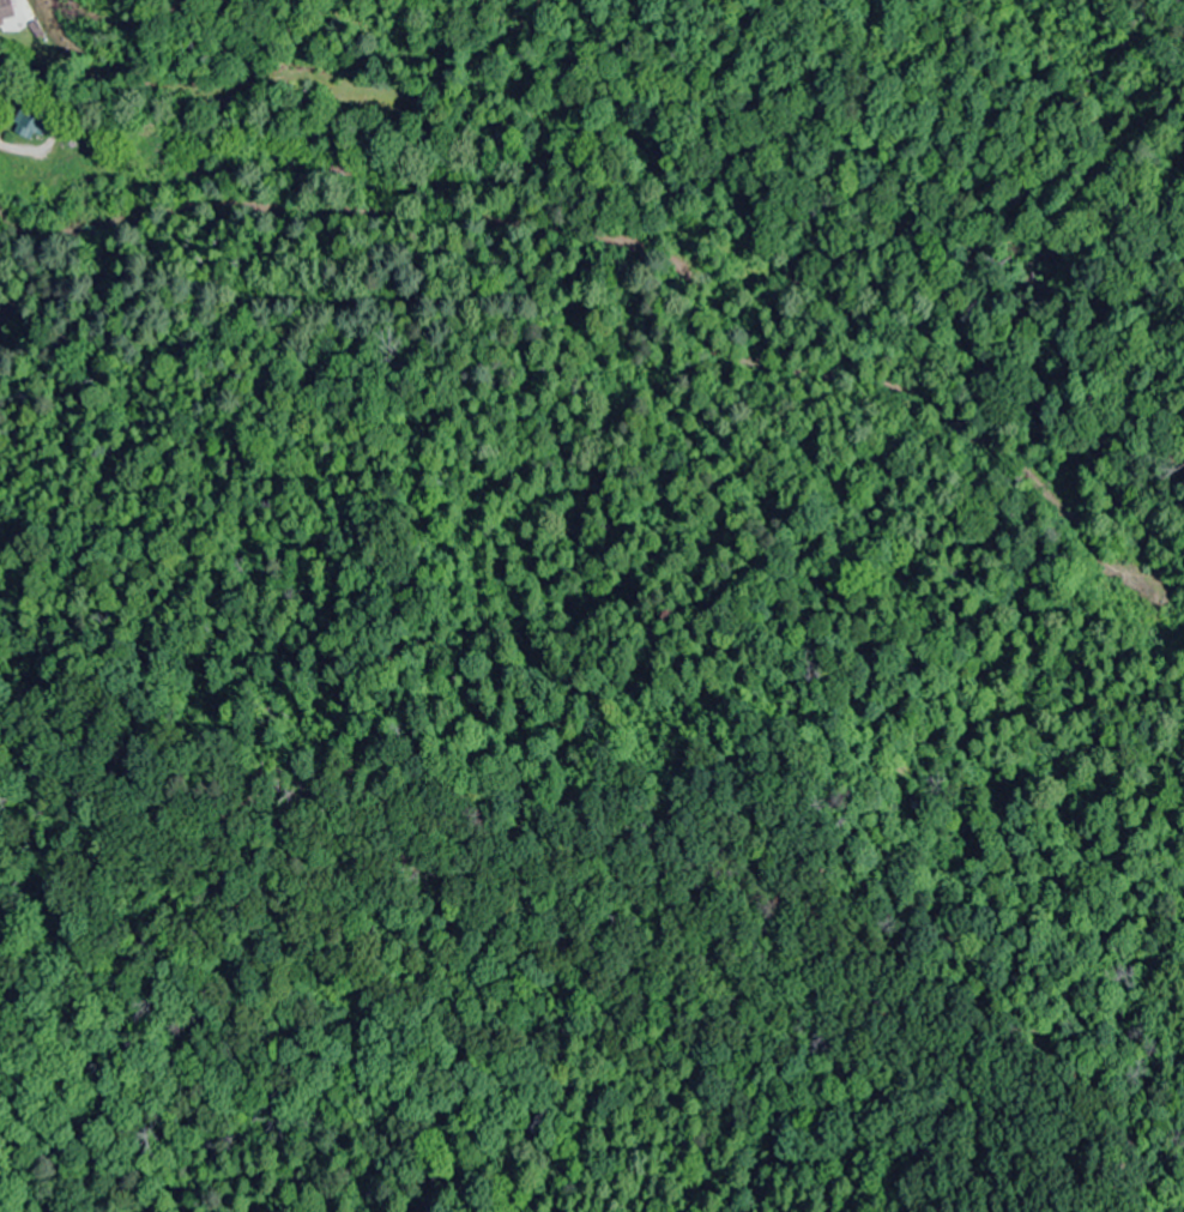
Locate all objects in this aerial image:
building: (7, 11)
building: (30, 125)

